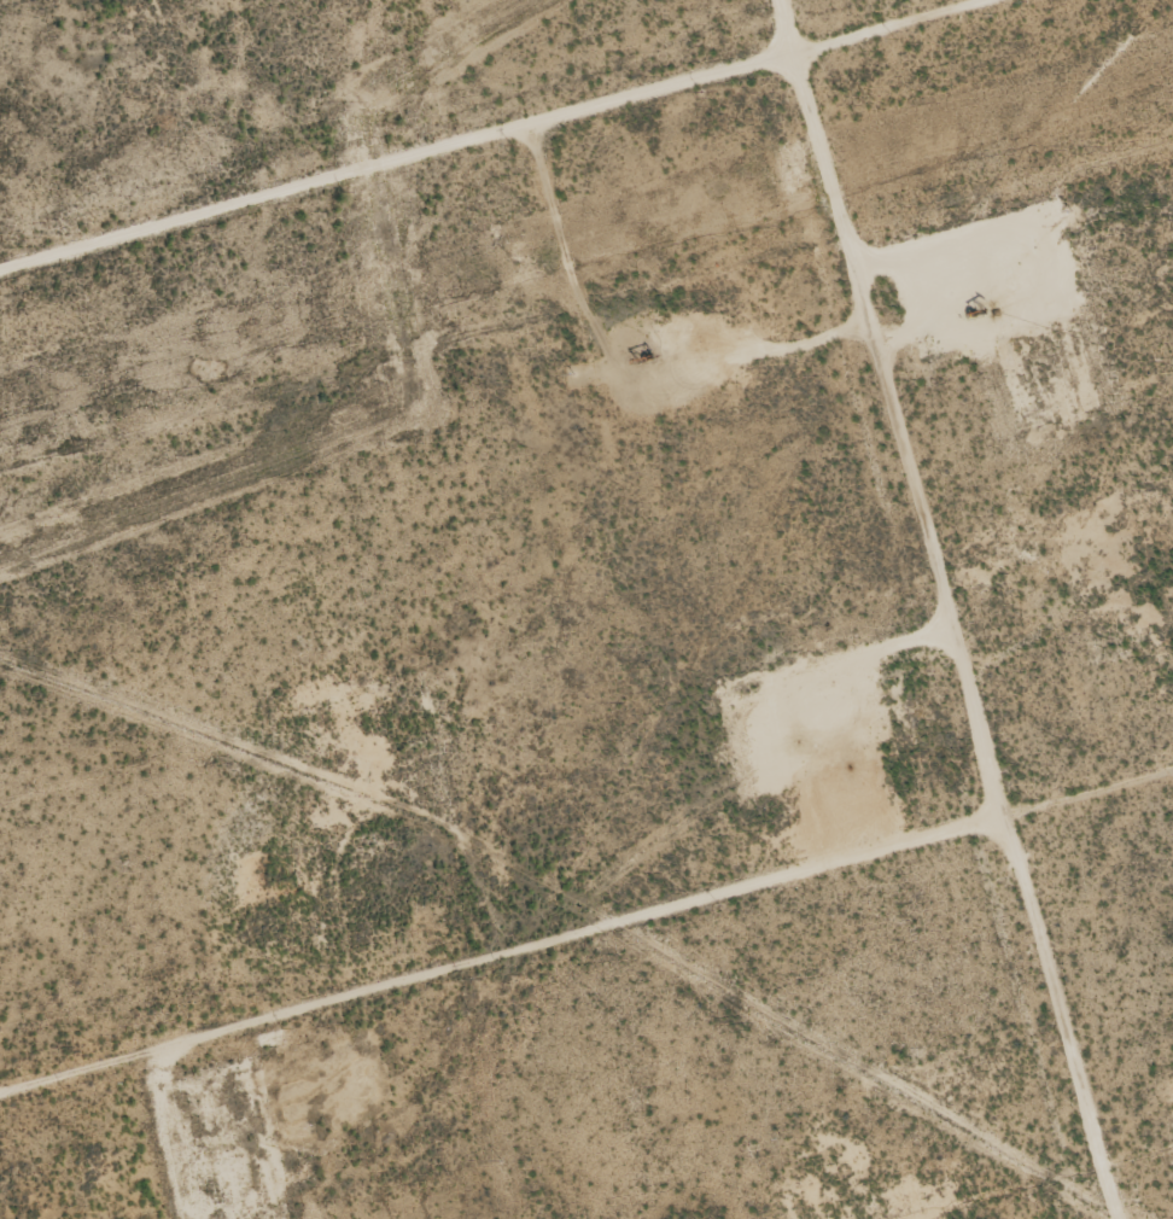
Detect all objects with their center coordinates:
road: (866, 609)

